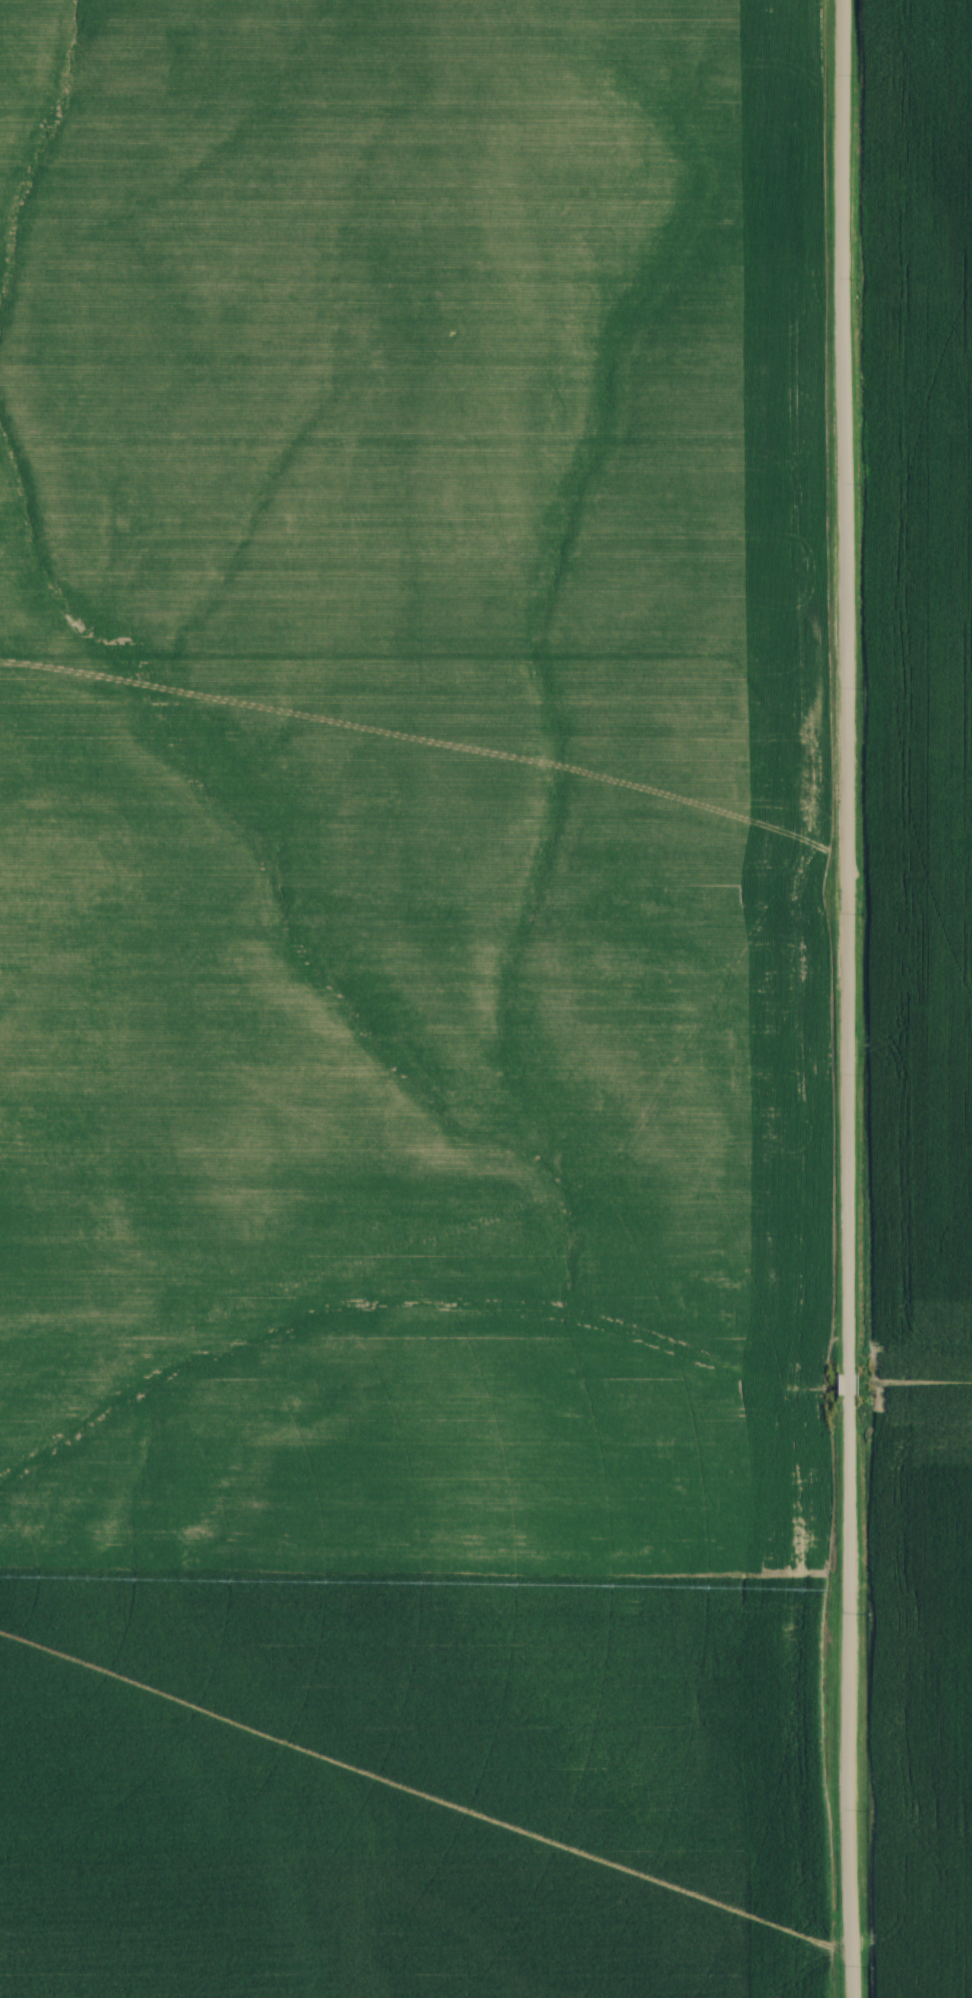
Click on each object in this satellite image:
road: (844, 999)

